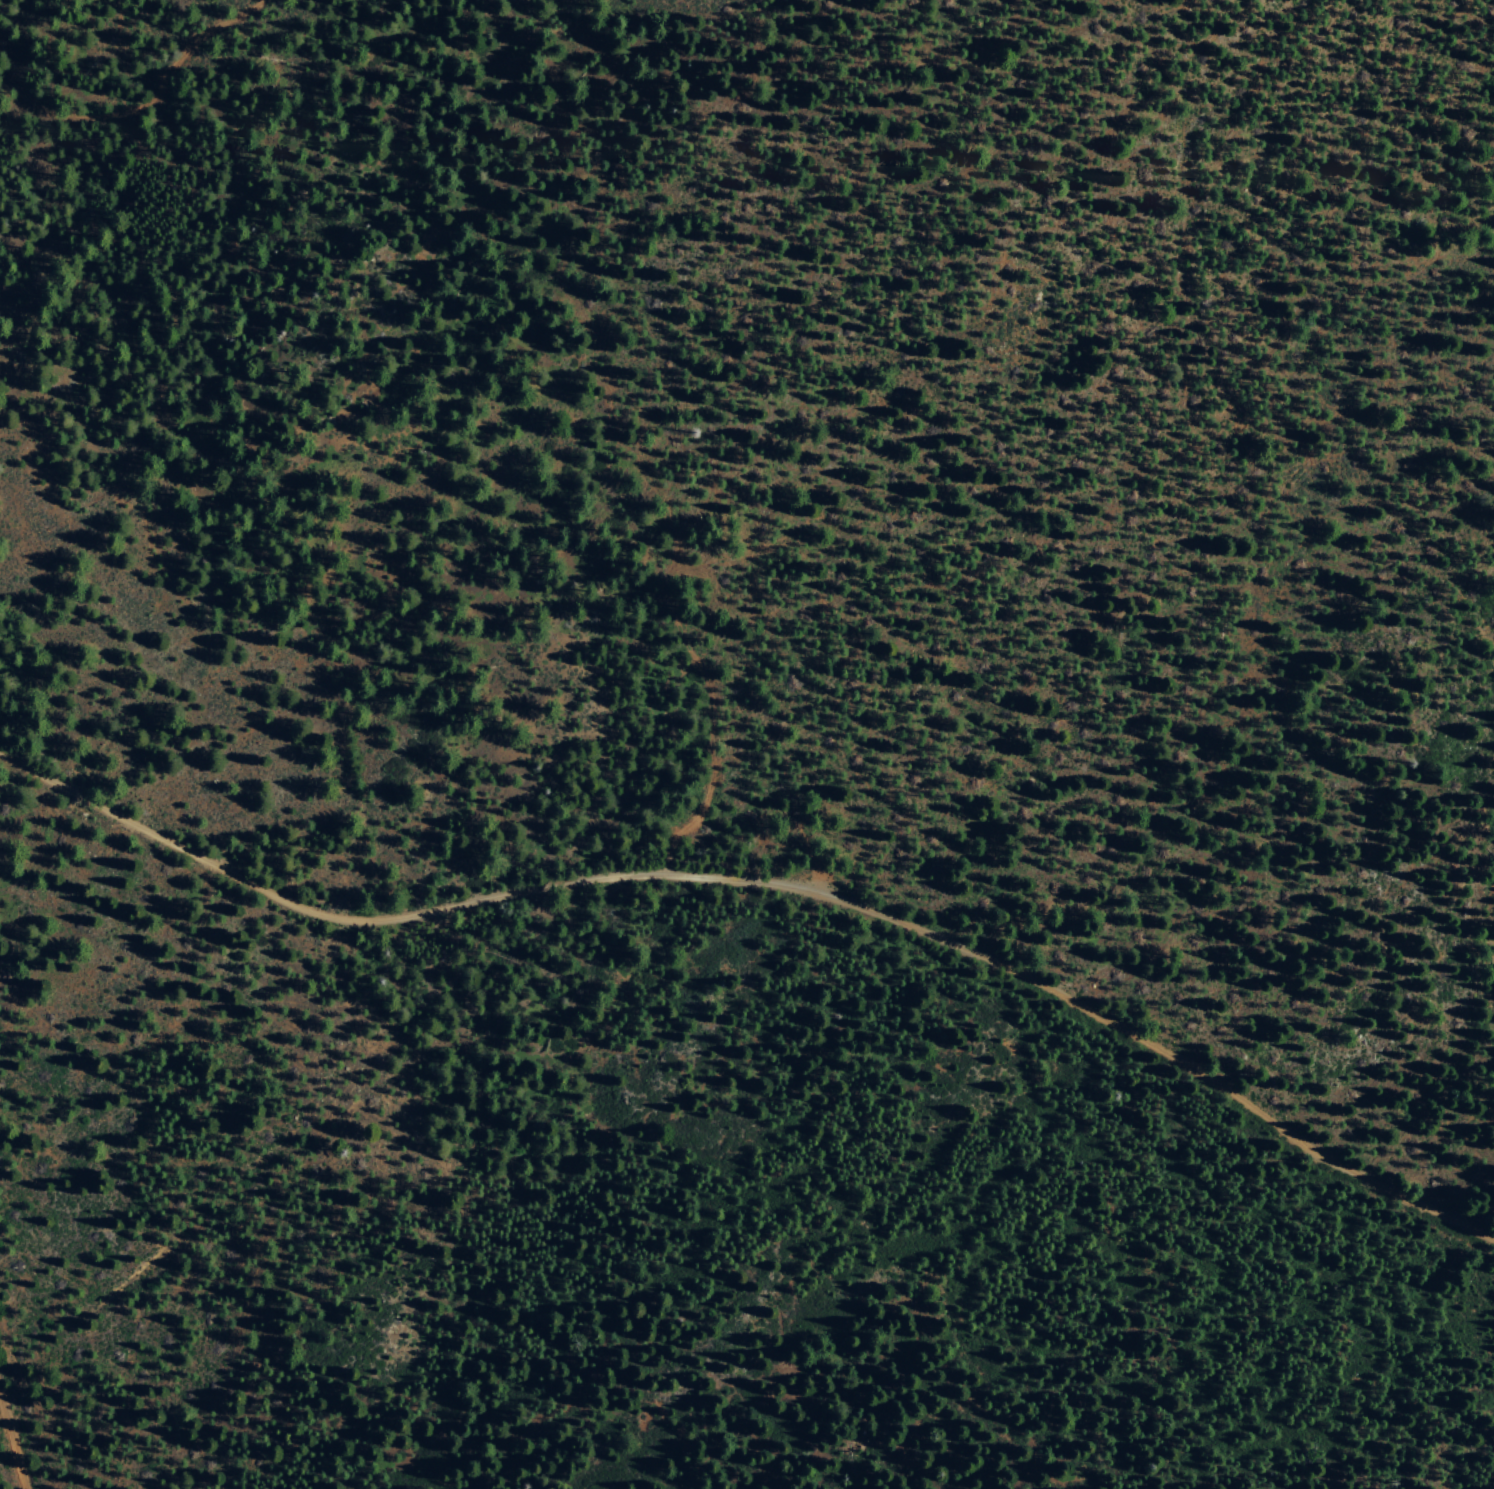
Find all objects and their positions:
road: (151, 101)
road: (770, 883)
road: (10, 1447)

